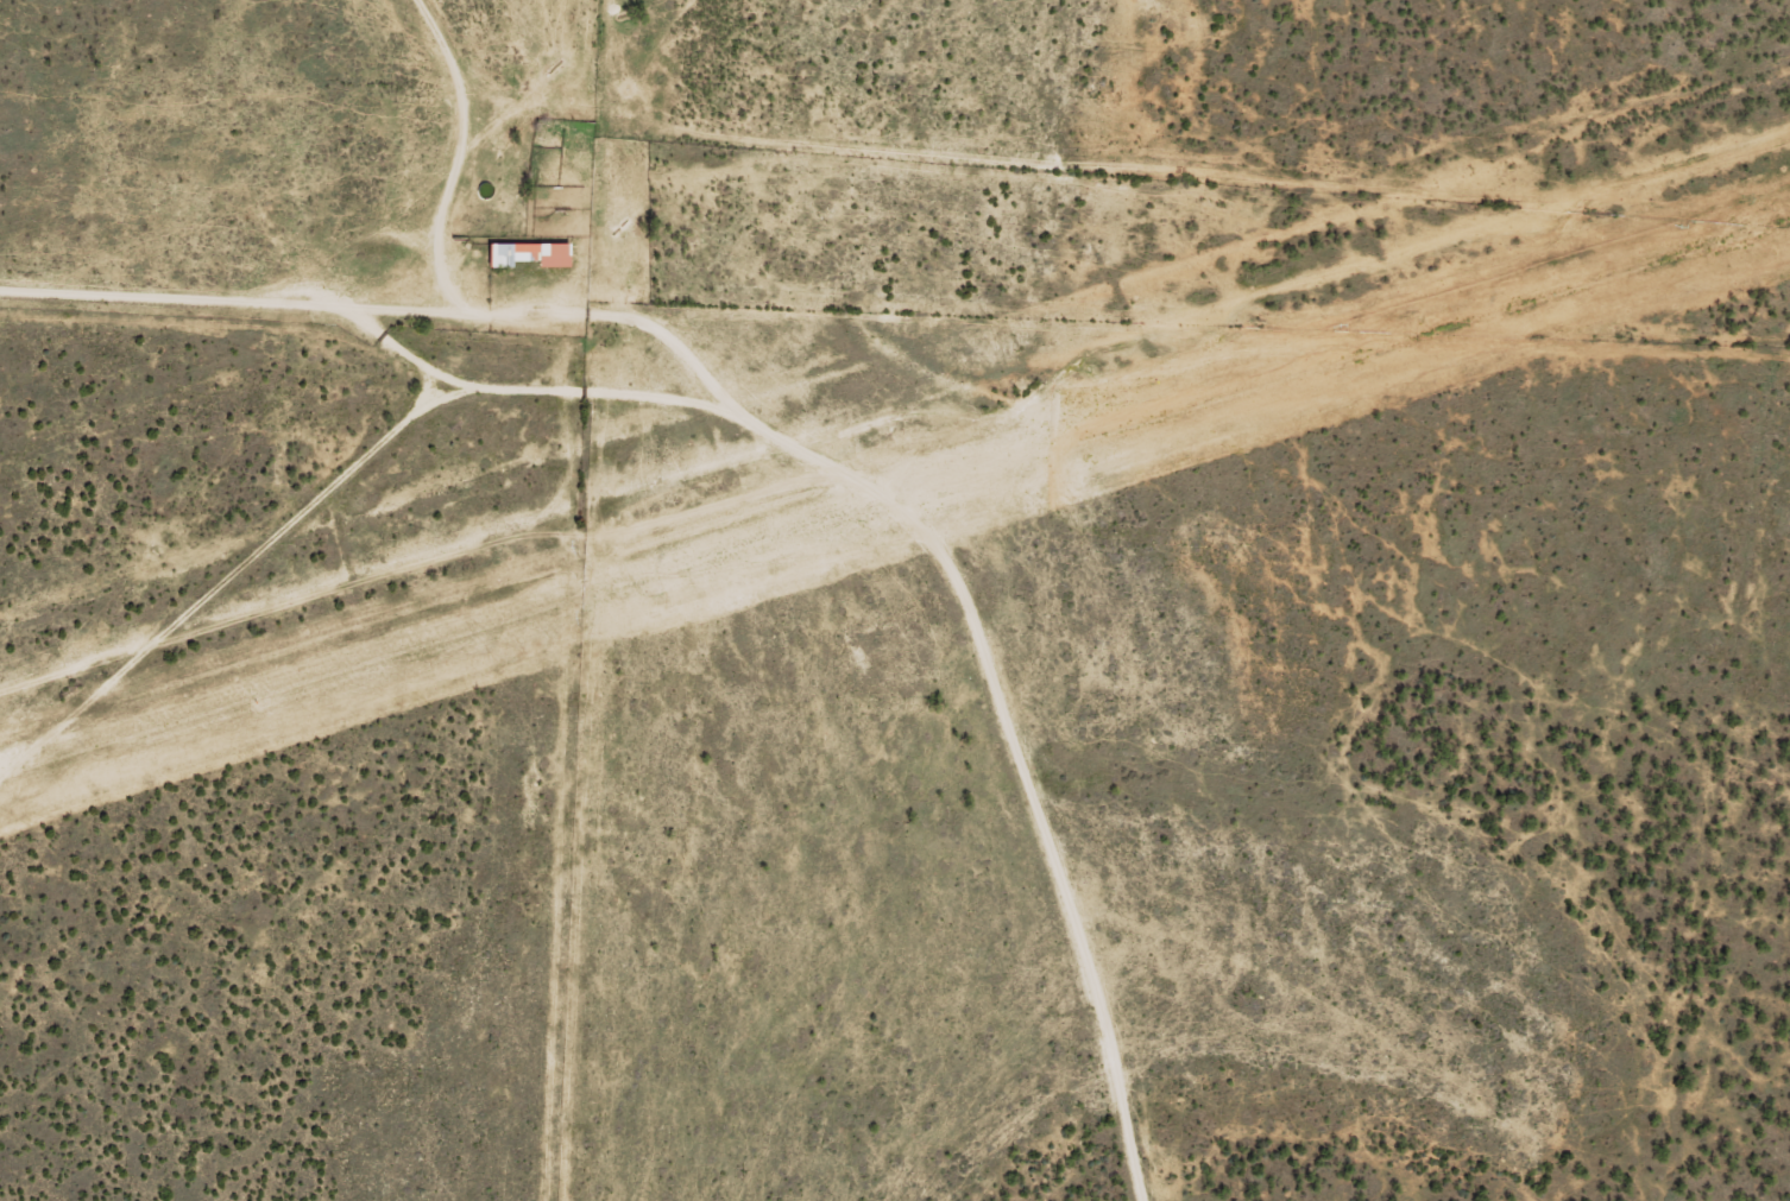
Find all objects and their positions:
road: (619, 128)
building: (529, 254)
road: (181, 293)
road: (721, 397)

